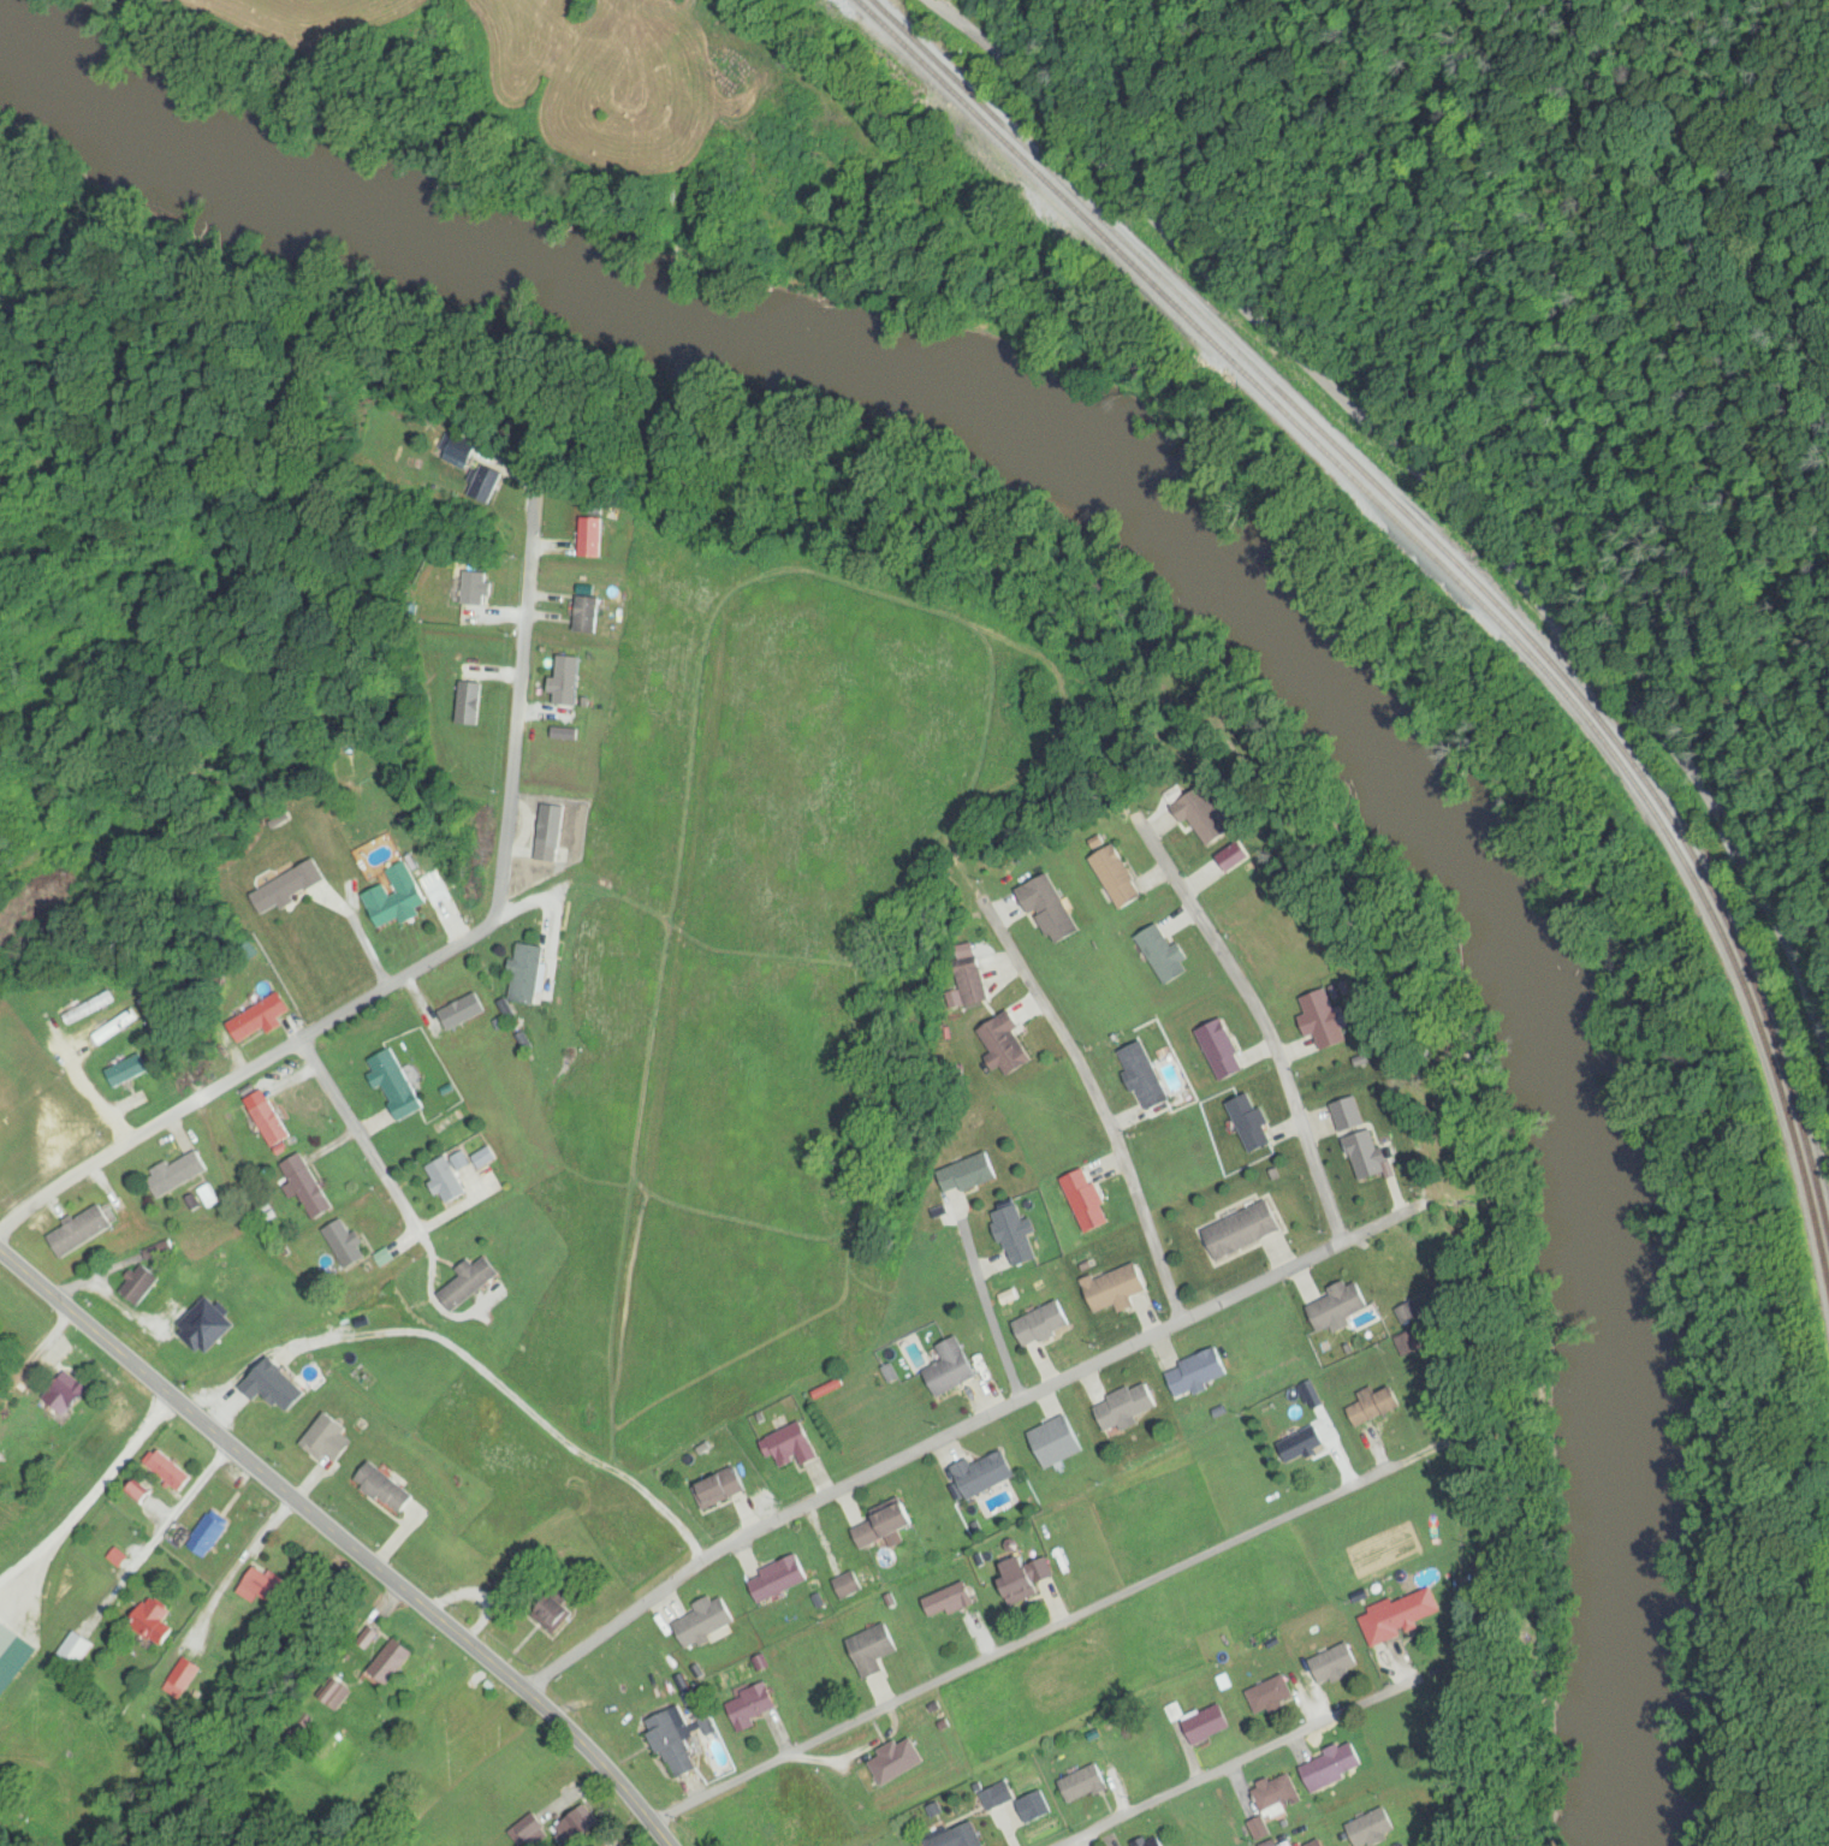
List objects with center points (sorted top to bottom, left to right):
road: (1376, 438)
building: (488, 485)
building: (593, 536)
railway: (1448, 553)
river: (1239, 584)
railway: (1484, 609)
building: (589, 613)
building: (570, 679)
building: (1211, 815)
building: (552, 831)
building: (1120, 878)
building: (397, 896)
building: (1166, 955)
road: (434, 960)
building: (529, 973)
building: (464, 1010)
building: (100, 1017)
building: (261, 1019)
building: (1325, 1019)
building: (1223, 1050)
building: (130, 1069)
building: (1146, 1076)
building: (398, 1084)
building: (1346, 1115)
building: (268, 1117)
building: (1252, 1122)
road: (368, 1133)
building: (179, 1174)
building: (449, 1181)
building: (309, 1187)
building: (1088, 1201)
building: (89, 1228)
building: (1246, 1231)
building: (349, 1245)
building: (471, 1282)
building: (142, 1284)
building: (1117, 1289)
building: (1341, 1305)
building: (1412, 1313)
building: (1045, 1324)
road: (36, 1357)
building: (955, 1366)
building: (1199, 1372)
building: (60, 1396)
building: (1379, 1405)
building: (1128, 1407)
road: (961, 1430)
building: (332, 1440)
building: (1061, 1440)
building: (1305, 1443)
building: (794, 1447)
building: (0, 1464)
building: (172, 1471)
building: (987, 1473)
building: (387, 1486)
building: (721, 1489)
building: (890, 1521)
building: (212, 1536)
road: (344, 1539)
building: (779, 1578)
building: (1022, 1578)
building: (853, 1583)
building: (267, 1587)
building: (952, 1601)
building: (558, 1614)
building: (1403, 1615)
building: (706, 1620)
building: (158, 1622)
road: (1029, 1639)
building: (78, 1649)
building: (874, 1649)
building: (11, 1650)
road: (394, 1652)
building: (394, 1660)
building: (1337, 1663)
building: (183, 1678)
building: (1273, 1697)
building: (754, 1705)
building: (1210, 1725)
building: (676, 1743)
building: (895, 1764)
road: (1237, 1764)
building: (1335, 1767)
building: (1092, 1782)
building: (1278, 1792)
building: (577, 1827)
building: (1376, 1828)
building: (961, 1836)
road: (1086, 1841)
building: (1157, 1842)
building: (1319, 1844)

